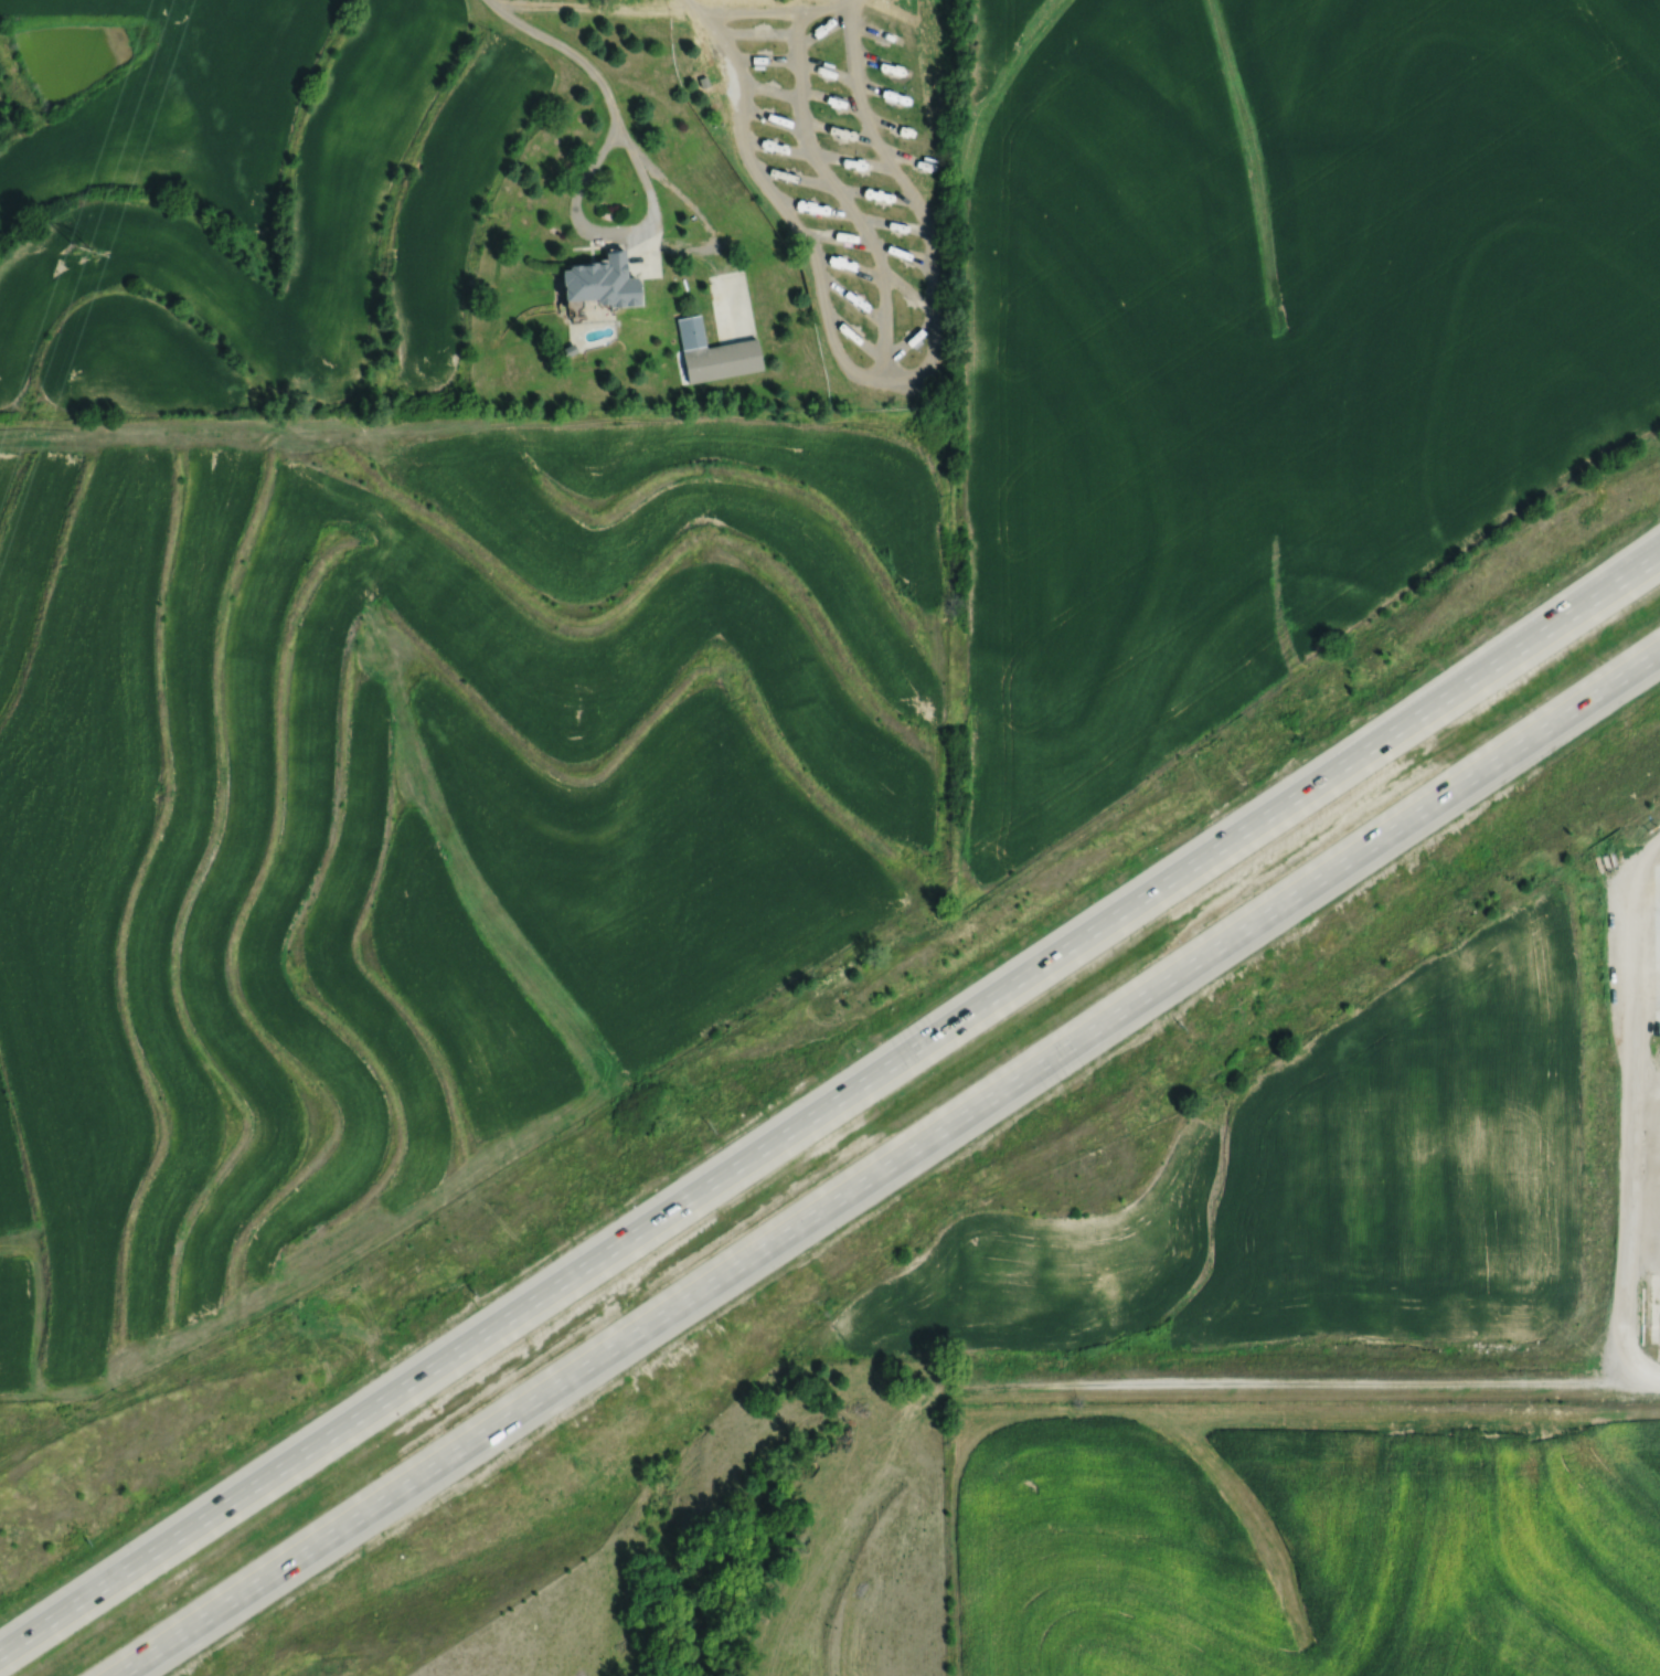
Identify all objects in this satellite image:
road: (567, 55)
road: (651, 225)
power tower: (89, 258)
building: (599, 283)
building: (714, 354)
road: (1615, 582)
road: (829, 1103)
road: (1646, 1116)
road: (888, 1165)
road: (1321, 1385)

